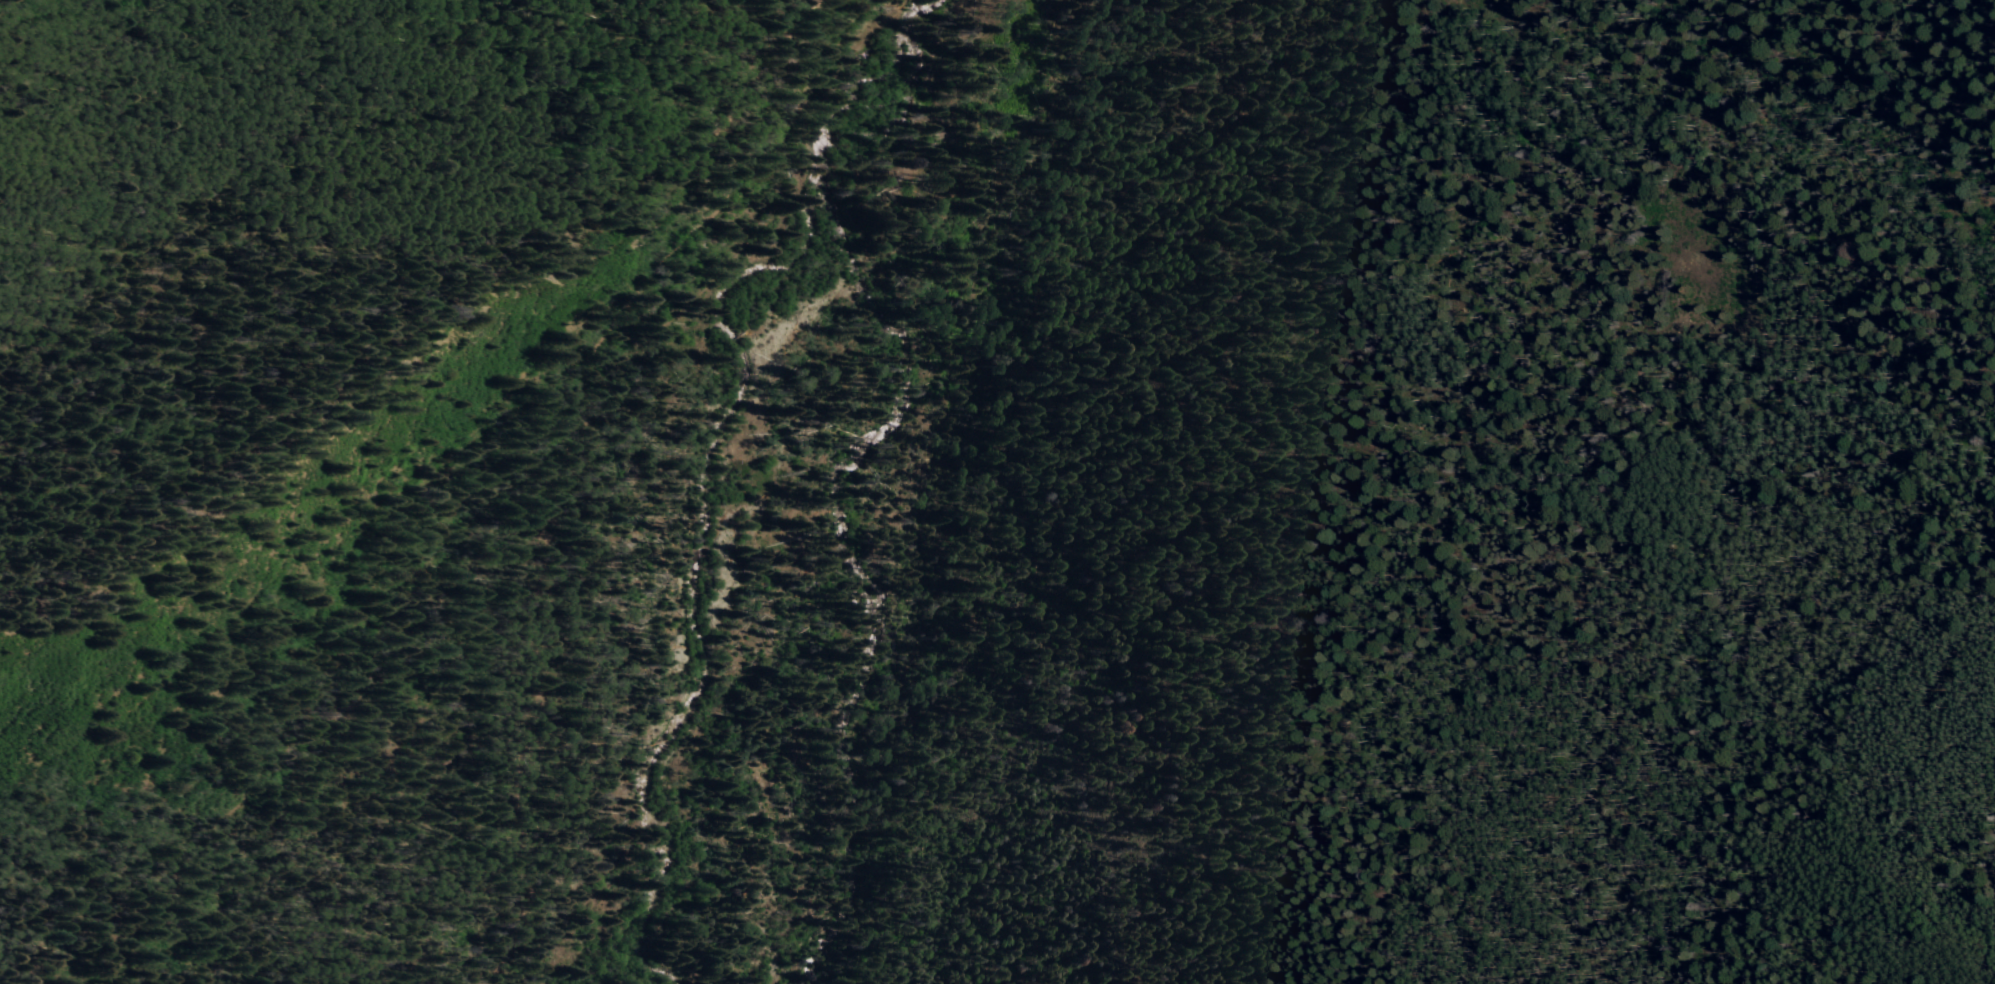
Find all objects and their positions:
road: (1863, 19)
road: (1948, 33)
road: (762, 227)
road: (565, 463)
river: (749, 466)
road: (130, 914)

